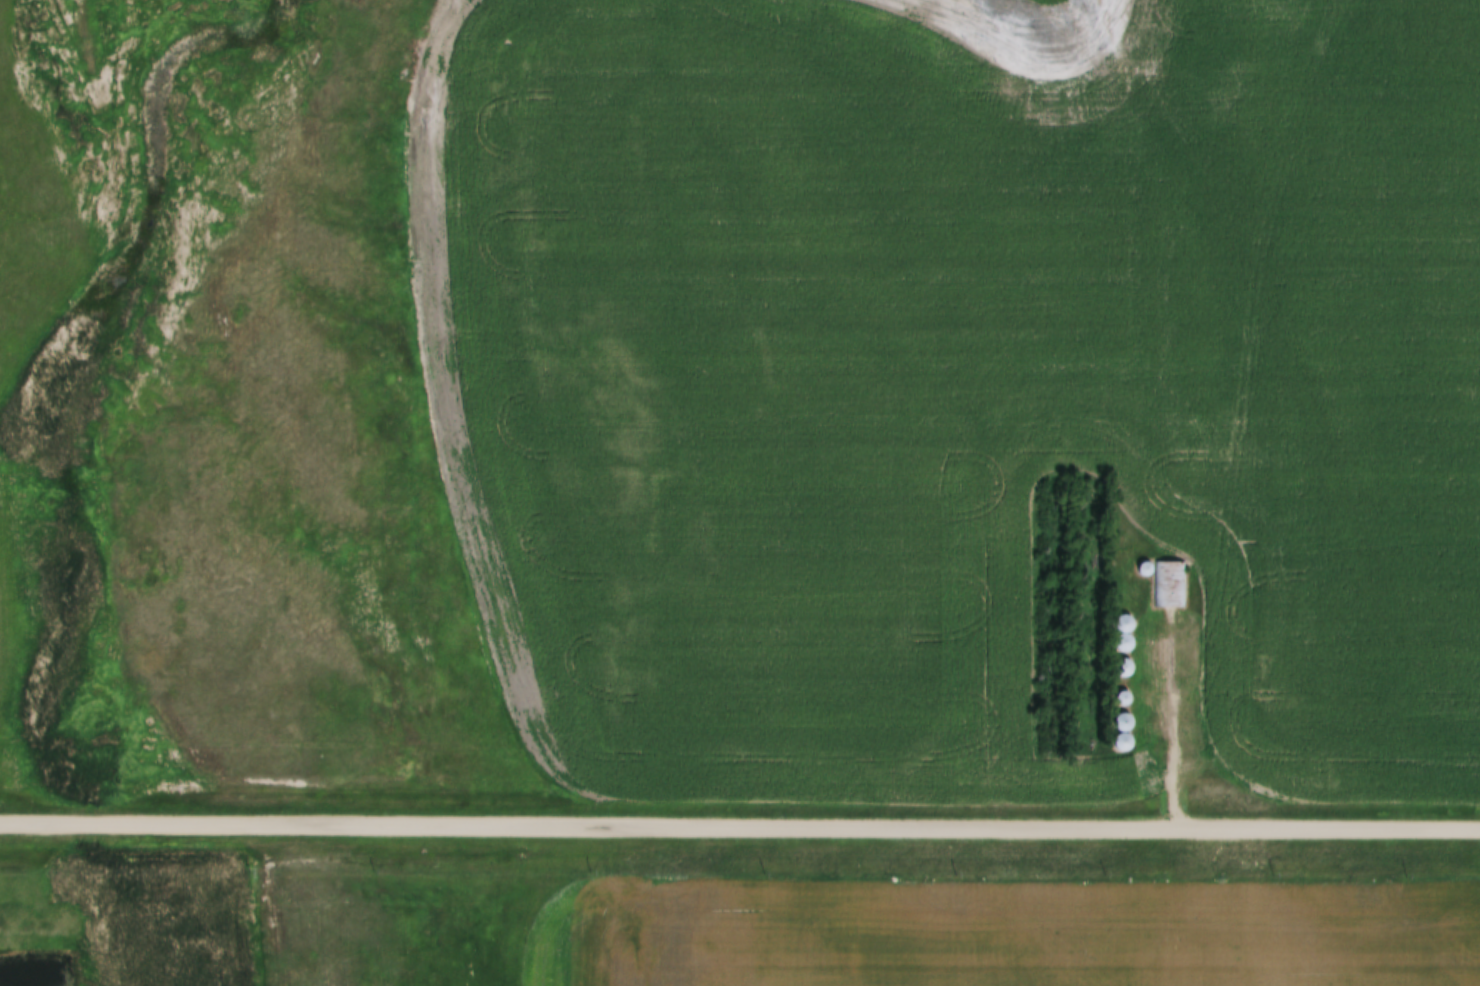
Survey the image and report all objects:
building: (1130, 636)
building: (1131, 671)
building: (1251, 683)
building: (1129, 701)
road: (1179, 723)
building: (1128, 737)
road: (739, 824)

